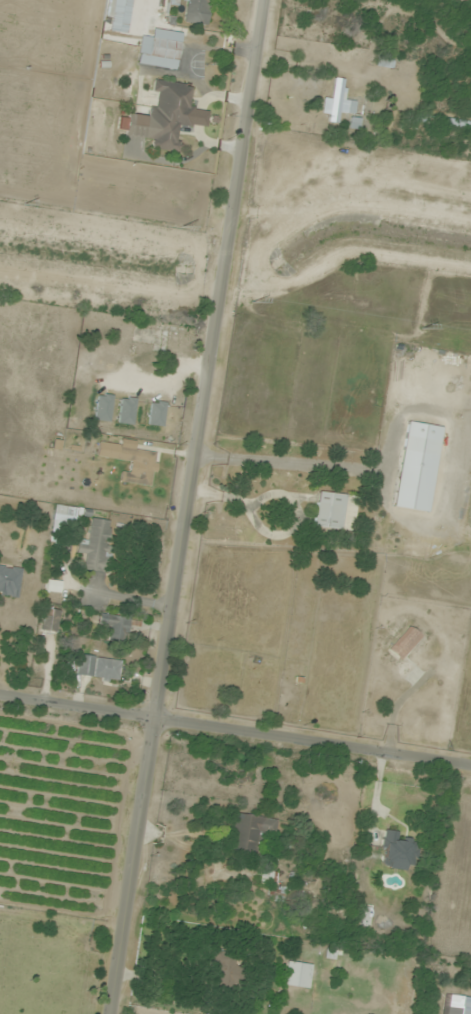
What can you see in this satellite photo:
building: (199, 10)
building: (160, 49)
building: (385, 60)
building: (339, 103)
building: (166, 115)
building: (444, 121)
building: (355, 123)
building: (104, 407)
building: (127, 410)
building: (157, 413)
building: (139, 466)
building: (418, 467)
road: (186, 506)
building: (329, 510)
building: (97, 546)
building: (10, 580)
building: (54, 586)
building: (50, 619)
building: (115, 627)
building: (403, 643)
building: (99, 668)
road: (77, 702)
road: (313, 738)
road: (379, 784)
building: (250, 835)
building: (398, 851)
building: (269, 878)
building: (225, 970)
building: (297, 975)
building: (456, 1005)

